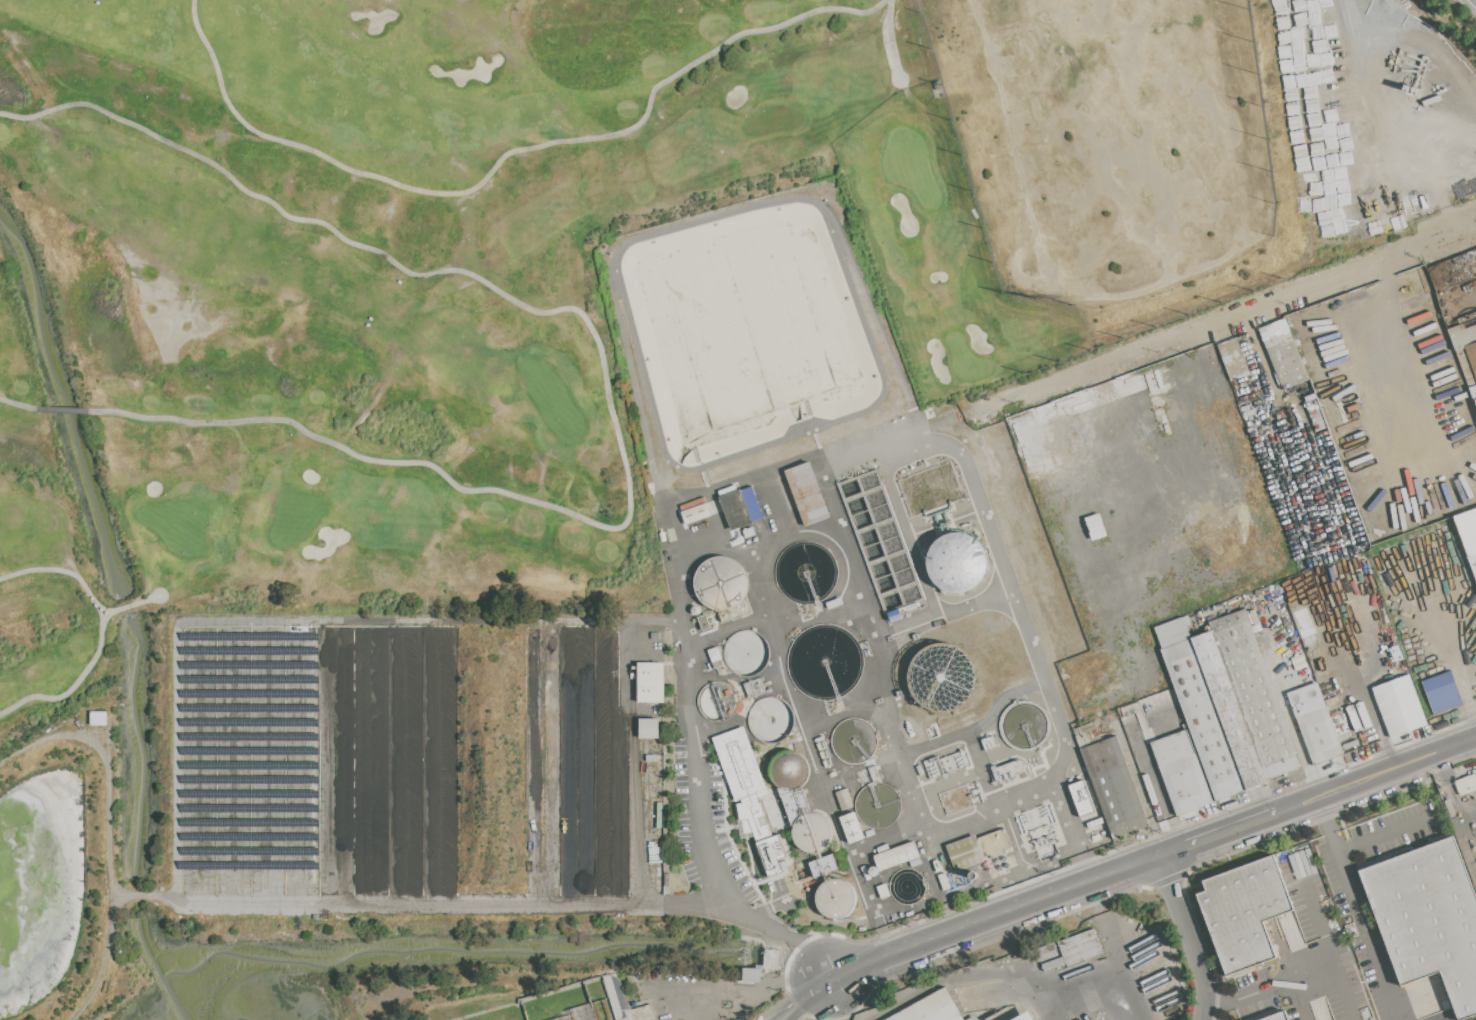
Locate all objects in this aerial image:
road: (889, 40)
park: (1111, 140)
road: (506, 154)
park: (586, 258)
building: (1410, 292)
building: (1374, 309)
road: (1219, 324)
building: (1466, 351)
road: (1360, 353)
building: (1288, 355)
building: (1233, 358)
road: (605, 378)
road: (18, 403)
road: (63, 410)
road: (1408, 416)
road: (900, 439)
road: (1364, 440)
road: (1287, 485)
building: (806, 493)
building: (740, 507)
building: (694, 513)
building: (1095, 526)
road: (992, 542)
building: (956, 563)
building: (1472, 564)
road: (66, 572)
building: (723, 586)
road: (163, 593)
road: (1128, 605)
road: (121, 607)
road: (121, 607)
building: (1172, 633)
road: (696, 640)
wastewater plant: (688, 656)
building: (650, 681)
road: (77, 682)
building: (1325, 684)
road: (1017, 689)
building: (1441, 690)
building: (1256, 696)
building: (1399, 706)
building: (1229, 711)
building: (1357, 716)
building: (1204, 720)
road: (1379, 721)
building: (1340, 725)
building: (648, 728)
building: (1089, 734)
building: (1321, 735)
road: (1445, 750)
building: (1181, 772)
road: (1366, 780)
building: (1467, 784)
building: (1114, 786)
building: (748, 794)
building: (1081, 798)
building: (800, 804)
road: (1298, 805)
road: (1068, 825)
building: (851, 827)
road: (1384, 833)
road: (115, 835)
building: (1465, 847)
building: (977, 848)
building: (897, 856)
building: (823, 865)
road: (856, 870)
building: (835, 898)
road: (415, 906)
road: (1358, 909)
building: (1244, 911)
road: (991, 917)
building: (1429, 917)
road: (1187, 937)
building: (1070, 951)
road: (996, 969)
building: (751, 974)
road: (1122, 975)
road: (1298, 975)
road: (752, 992)
road: (814, 993)
road: (1299, 999)
building: (624, 1001)
road: (1174, 1004)
road: (1047, 1008)
building: (932, 1009)
road: (782, 1016)
road: (789, 1016)
building: (1025, 1016)
building: (1277, 1016)
building: (972, 1018)
building: (1470, 1018)
building: (889, 1019)

